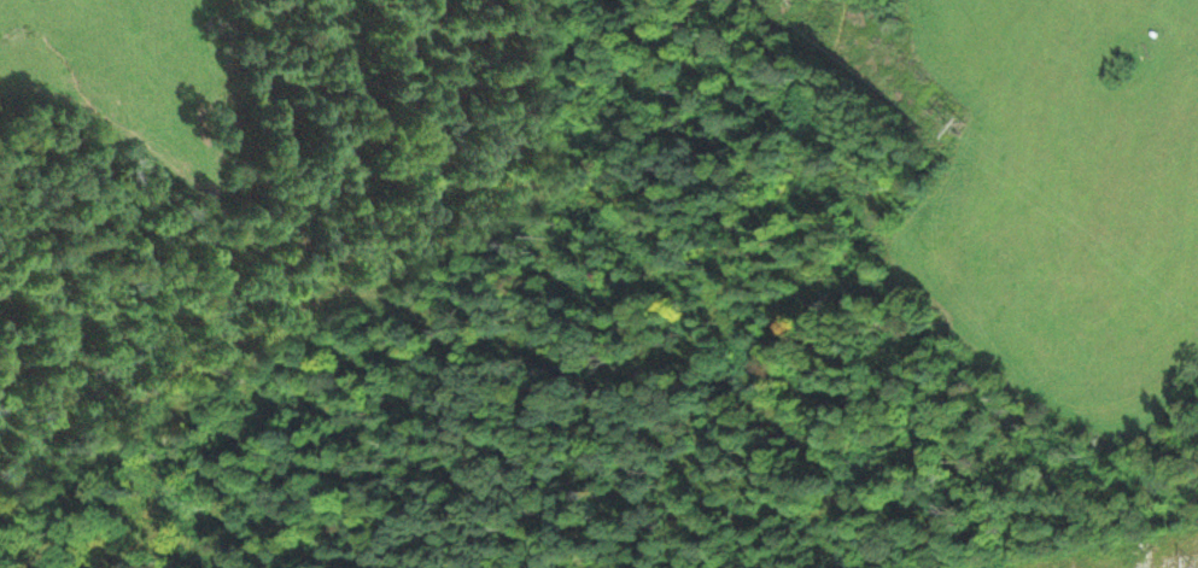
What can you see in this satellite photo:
power tower: (1191, 556)

